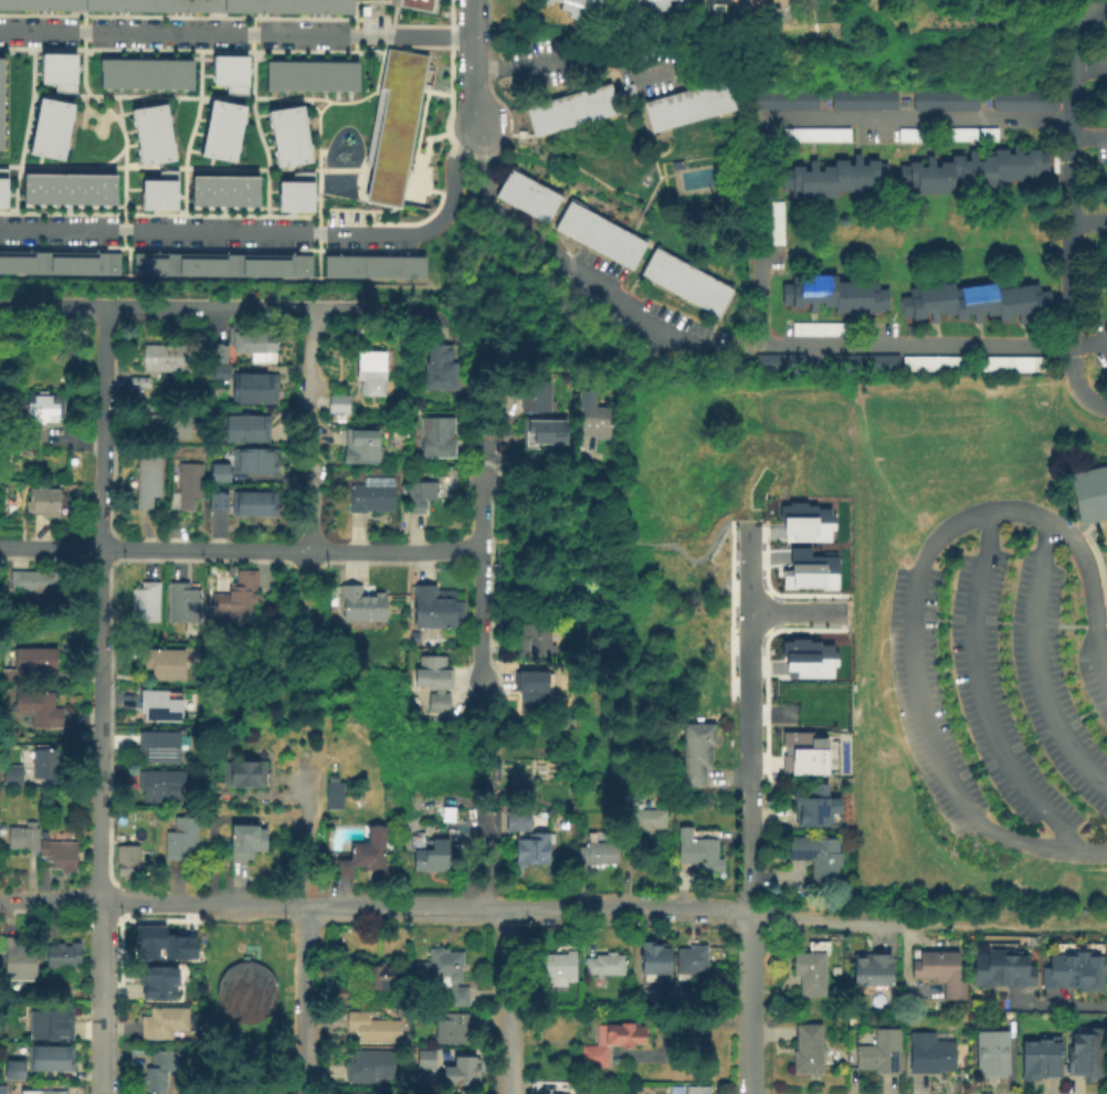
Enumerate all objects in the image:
building: (605, 0)
building: (769, 1)
building: (418, 2)
building: (6, 6)
building: (45, 6)
building: (114, 6)
building: (183, 6)
building: (253, 7)
building: (320, 7)
building: (574, 7)
building: (652, 7)
building: (716, 11)
road: (234, 33)
road: (579, 61)
road: (470, 63)
road: (1088, 65)
building: (56, 70)
building: (229, 72)
building: (144, 73)
building: (309, 75)
building: (0, 88)
building: (1023, 101)
building: (784, 102)
building: (862, 102)
building: (943, 102)
building: (688, 106)
building: (570, 111)
building: (50, 113)
building: (147, 119)
building: (283, 122)
building: (393, 123)
building: (220, 129)
building: (946, 135)
building: (818, 136)
road: (1087, 139)
building: (44, 141)
building: (151, 147)
building: (287, 149)
road: (471, 159)
road: (1067, 165)
building: (973, 171)
building: (834, 179)
building: (2, 187)
building: (66, 188)
building: (223, 190)
building: (159, 191)
building: (295, 193)
building: (527, 197)
building: (774, 223)
road: (1087, 223)
road: (272, 231)
building: (599, 235)
road: (765, 251)
building: (0, 261)
building: (31, 262)
building: (92, 262)
building: (162, 262)
building: (222, 263)
building: (282, 264)
road: (563, 265)
building: (348, 266)
building: (399, 266)
building: (685, 283)
road: (391, 286)
building: (834, 295)
building: (973, 303)
road: (220, 309)
road: (442, 325)
building: (816, 330)
building: (251, 339)
building: (217, 355)
building: (166, 359)
building: (777, 362)
building: (864, 365)
building: (973, 367)
building: (440, 370)
building: (217, 372)
building: (369, 372)
road: (118, 374)
road: (308, 377)
building: (137, 383)
road: (1076, 385)
building: (253, 389)
building: (534, 395)
road: (316, 404)
building: (337, 404)
building: (41, 409)
building: (591, 413)
building: (170, 427)
building: (246, 429)
building: (541, 432)
road: (75, 438)
building: (435, 438)
road: (492, 439)
building: (361, 446)
road: (527, 461)
building: (254, 462)
building: (218, 473)
building: (146, 483)
building: (186, 486)
building: (1089, 494)
building: (372, 495)
building: (418, 496)
building: (42, 502)
building: (218, 503)
building: (253, 504)
road: (309, 515)
building: (802, 522)
road: (936, 539)
road: (681, 548)
road: (241, 550)
street lamp: (734, 560)
road: (584, 562)
building: (804, 569)
road: (482, 580)
building: (33, 582)
road: (308, 590)
building: (233, 600)
road: (587, 602)
road: (99, 603)
building: (144, 603)
building: (181, 604)
building: (360, 604)
building: (433, 608)
road: (797, 611)
road: (748, 619)
building: (412, 639)
park: (866, 640)
building: (533, 641)
street lamp: (761, 650)
building: (806, 653)
building: (28, 664)
road: (1036, 664)
building: (162, 666)
building: (432, 683)
building: (529, 690)
road: (980, 695)
building: (36, 709)
building: (157, 709)
building: (157, 748)
building: (802, 753)
building: (695, 754)
building: (45, 765)
road: (747, 768)
building: (242, 775)
building: (11, 776)
building: (162, 787)
building: (333, 798)
building: (814, 808)
building: (445, 817)
building: (516, 822)
building: (643, 825)
building: (21, 839)
building: (179, 841)
building: (245, 843)
road: (1040, 846)
building: (530, 852)
building: (697, 854)
building: (57, 856)
building: (363, 856)
building: (597, 856)
building: (430, 860)
building: (816, 860)
building: (126, 862)
road: (746, 872)
road: (49, 898)
road: (151, 900)
road: (345, 903)
road: (615, 907)
road: (925, 924)
road: (1106, 925)
road: (305, 928)
building: (148, 940)
building: (177, 943)
road: (98, 949)
building: (63, 957)
building: (655, 960)
building: (18, 961)
building: (690, 961)
building: (604, 966)
building: (555, 969)
building: (810, 969)
building: (872, 969)
building: (1000, 970)
building: (940, 972)
building: (1073, 972)
building: (443, 974)
building: (377, 979)
building: (154, 980)
building: (671, 990)
building: (244, 995)
water tower: (244, 995)
road: (508, 1000)
road: (747, 1003)
road: (1054, 1006)
building: (162, 1023)
building: (39, 1025)
building: (371, 1029)
building: (452, 1030)
building: (610, 1043)
road: (99, 1046)
building: (806, 1049)
building: (879, 1053)
building: (929, 1055)
building: (991, 1055)
building: (1086, 1056)
building: (424, 1059)
building: (49, 1060)
building: (1040, 1061)
building: (369, 1066)
building: (160, 1072)
building: (462, 1072)
building: (12, 1073)
building: (583, 1090)
building: (696, 1090)
building: (1, 1091)
building: (675, 1091)
building: (41, 1093)
building: (358, 1093)

